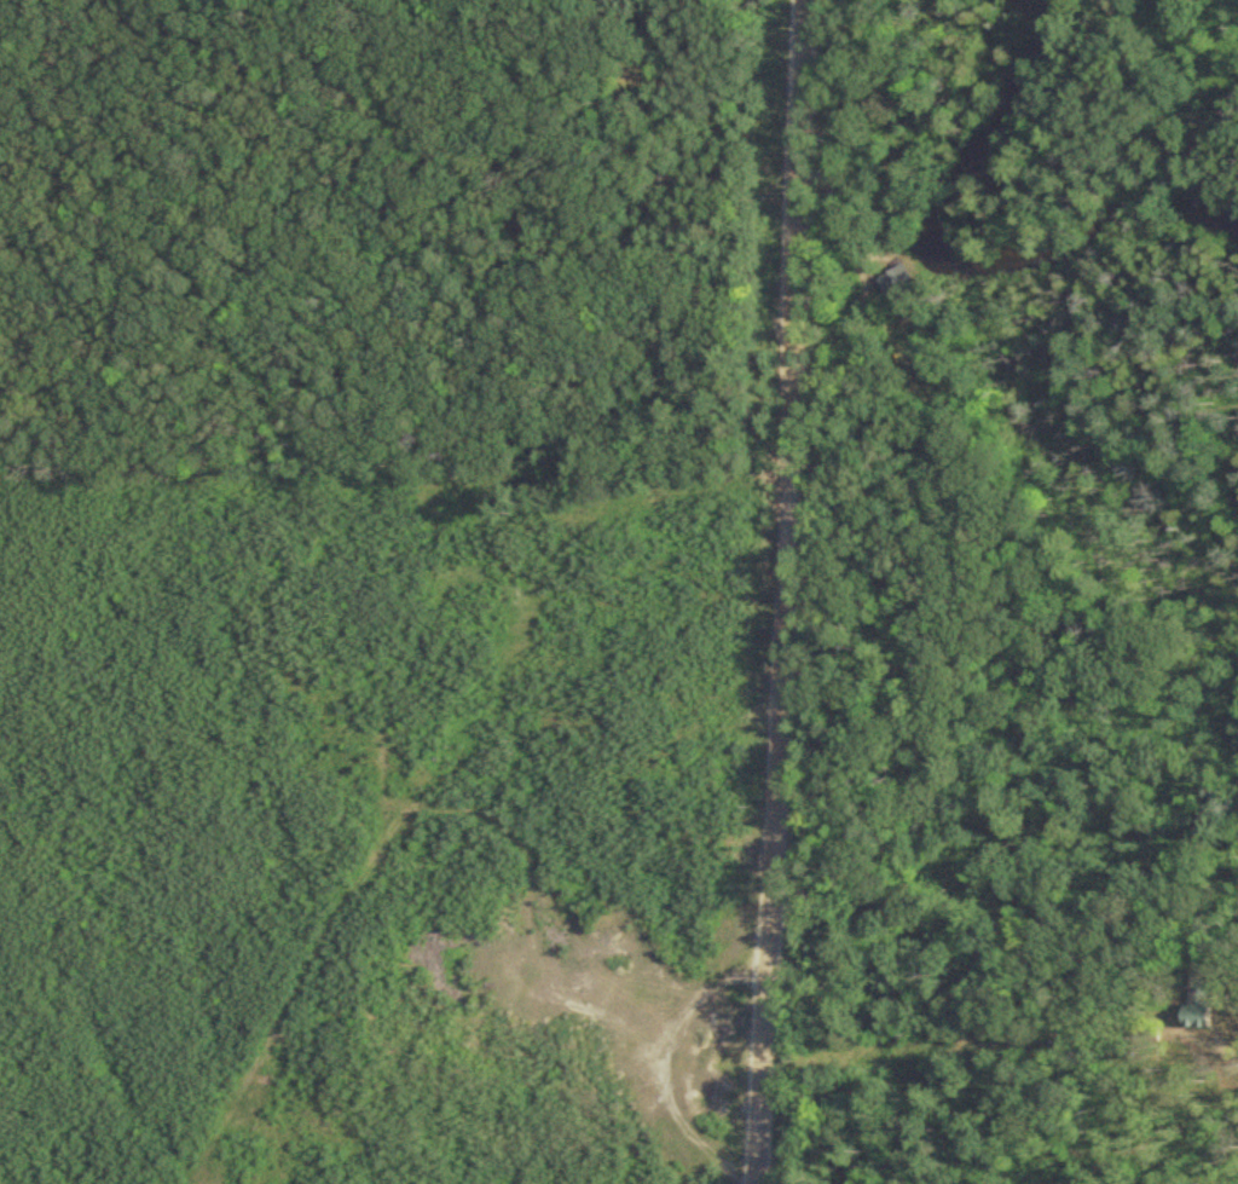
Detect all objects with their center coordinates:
river: (977, 242)
building: (898, 279)
road: (779, 591)
building: (1203, 1003)

